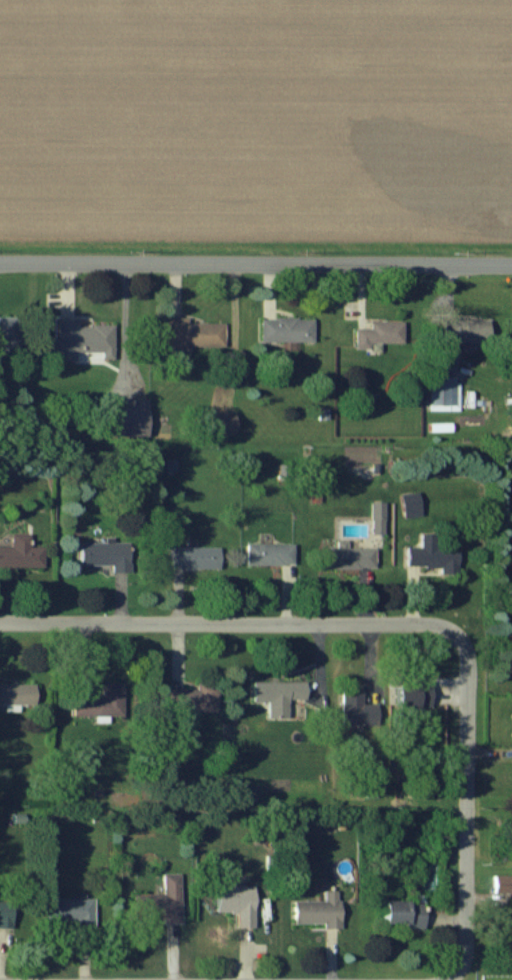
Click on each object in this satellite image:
road: (256, 266)
building: (286, 330)
building: (466, 331)
building: (6, 332)
building: (378, 333)
building: (194, 335)
building: (82, 340)
building: (442, 393)
building: (126, 419)
building: (218, 422)
building: (409, 504)
building: (377, 517)
building: (21, 553)
building: (103, 554)
building: (269, 554)
building: (432, 555)
building: (194, 557)
building: (346, 557)
road: (228, 623)
building: (16, 694)
building: (412, 694)
building: (276, 696)
building: (193, 699)
building: (100, 702)
building: (356, 709)
road: (468, 805)
building: (501, 886)
building: (163, 901)
building: (236, 905)
building: (68, 911)
building: (317, 911)
building: (5, 912)
building: (402, 913)
road: (453, 979)

